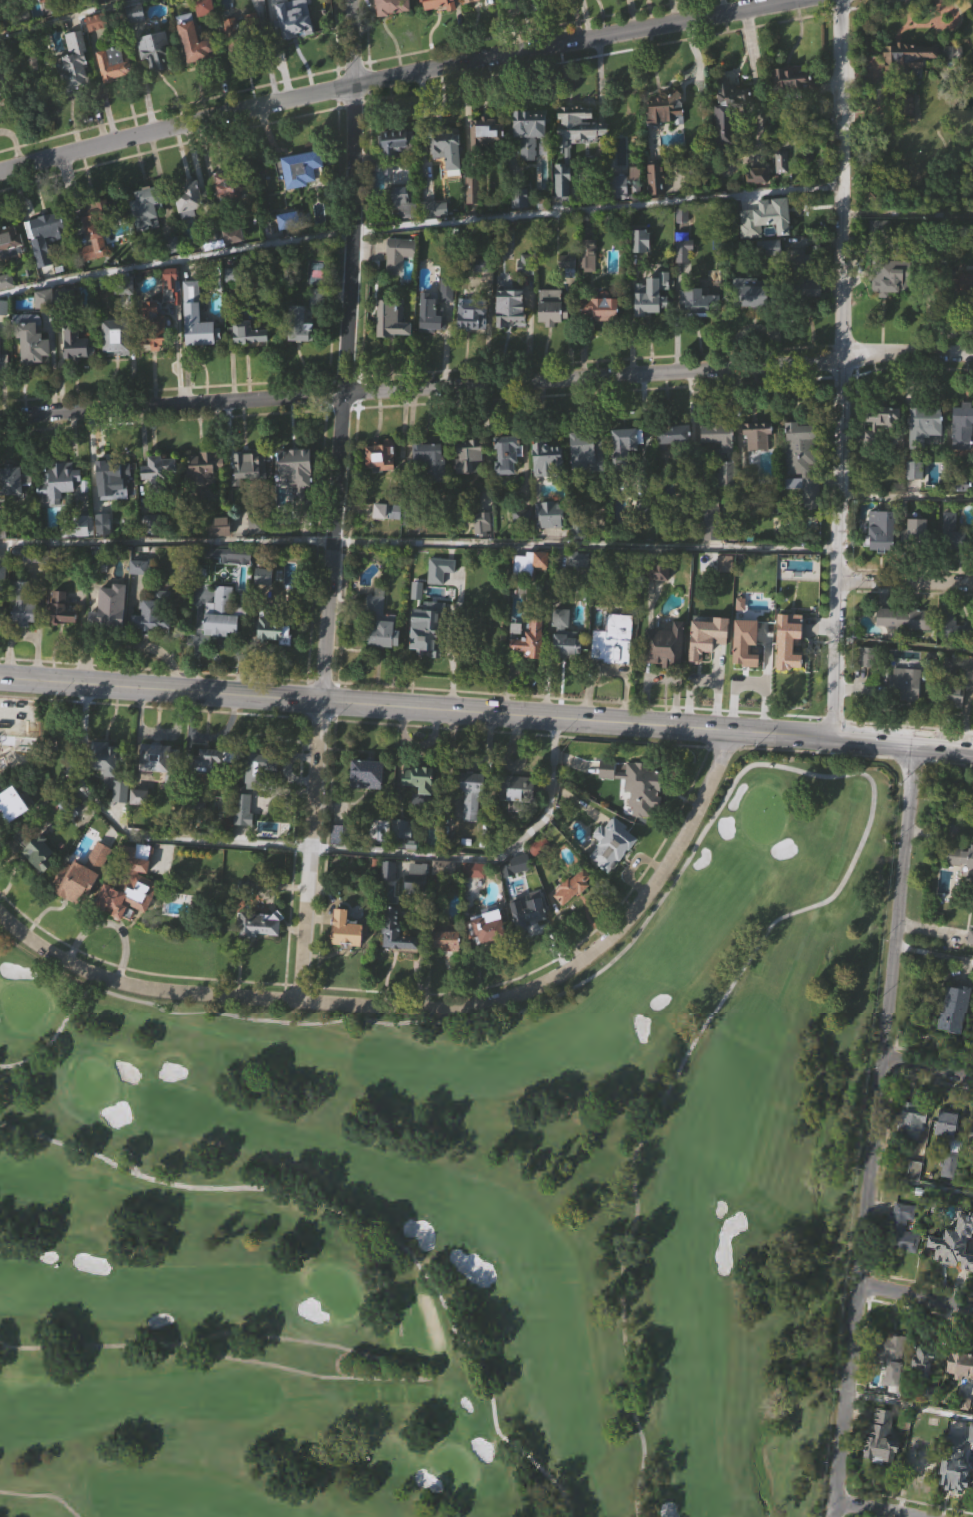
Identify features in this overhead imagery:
building: (74, 1)
building: (113, 1)
building: (468, 1)
building: (488, 1)
building: (594, 2)
building: (437, 4)
building: (34, 5)
building: (276, 6)
building: (389, 6)
building: (519, 6)
building: (8, 10)
building: (255, 11)
road: (75, 19)
building: (94, 24)
building: (393, 24)
building: (289, 25)
building: (206, 32)
building: (239, 32)
building: (138, 38)
building: (191, 40)
building: (294, 45)
building: (152, 47)
building: (98, 48)
building: (246, 49)
building: (907, 57)
building: (71, 63)
building: (112, 63)
building: (197, 70)
building: (157, 76)
road: (398, 76)
building: (789, 80)
building: (910, 82)
building: (77, 89)
building: (117, 90)
building: (0, 95)
building: (793, 103)
building: (663, 109)
building: (727, 114)
building: (1, 122)
building: (527, 130)
building: (483, 134)
building: (667, 135)
building: (572, 137)
building: (393, 141)
building: (444, 147)
building: (530, 157)
building: (487, 160)
building: (575, 165)
building: (397, 167)
building: (298, 169)
building: (655, 173)
building: (448, 175)
building: (611, 184)
building: (228, 186)
building: (783, 188)
building: (471, 190)
building: (304, 194)
building: (188, 196)
building: (518, 199)
building: (759, 201)
building: (402, 202)
building: (636, 204)
building: (657, 205)
building: (143, 206)
building: (231, 213)
road: (908, 213)
building: (474, 216)
building: (288, 220)
building: (191, 222)
building: (521, 224)
building: (403, 226)
road: (419, 226)
building: (91, 228)
building: (878, 228)
building: (148, 235)
building: (436, 235)
building: (220, 239)
building: (43, 240)
building: (9, 244)
building: (768, 248)
building: (881, 252)
building: (397, 253)
building: (587, 256)
building: (45, 263)
building: (95, 263)
building: (226, 264)
building: (567, 264)
building: (642, 267)
building: (11, 268)
building: (770, 273)
building: (801, 273)
building: (889, 275)
building: (685, 276)
building: (400, 280)
building: (951, 283)
building: (170, 284)
building: (568, 288)
building: (446, 290)
building: (485, 290)
building: (755, 294)
building: (63, 297)
building: (648, 300)
building: (232, 301)
building: (895, 303)
building: (693, 304)
building: (508, 307)
building: (550, 308)
building: (599, 310)
building: (173, 311)
building: (962, 312)
building: (471, 313)
building: (430, 315)
building: (810, 315)
building: (751, 316)
building: (195, 318)
building: (448, 318)
building: (389, 320)
building: (653, 321)
building: (46, 324)
building: (296, 325)
building: (697, 328)
building: (150, 332)
building: (4, 333)
building: (246, 333)
building: (553, 333)
building: (601, 333)
building: (512, 334)
building: (432, 341)
building: (473, 341)
building: (71, 342)
building: (113, 342)
building: (29, 345)
building: (199, 345)
building: (393, 345)
building: (301, 350)
building: (155, 352)
building: (250, 359)
building: (117, 362)
road: (841, 369)
building: (79, 370)
building: (1, 376)
road: (486, 384)
building: (884, 418)
building: (962, 429)
building: (672, 435)
building: (758, 436)
building: (716, 437)
building: (922, 437)
building: (884, 442)
building: (624, 446)
building: (963, 452)
building: (584, 453)
building: (505, 455)
building: (379, 456)
building: (467, 457)
building: (801, 459)
building: (429, 461)
building: (545, 461)
building: (674, 461)
building: (759, 461)
building: (628, 465)
building: (244, 469)
building: (108, 472)
building: (200, 472)
building: (157, 474)
building: (295, 475)
building: (723, 475)
building: (588, 477)
building: (507, 480)
building: (9, 482)
building: (55, 482)
building: (383, 482)
building: (471, 482)
building: (547, 484)
building: (433, 485)
building: (252, 491)
building: (297, 493)
building: (161, 495)
building: (205, 496)
building: (915, 496)
road: (906, 497)
road: (336, 499)
building: (934, 500)
building: (13, 506)
building: (116, 506)
building: (60, 508)
building: (385, 512)
building: (549, 514)
building: (413, 515)
building: (152, 521)
building: (304, 521)
building: (709, 521)
building: (812, 521)
building: (255, 522)
building: (481, 523)
building: (76, 526)
building: (219, 526)
building: (577, 527)
building: (880, 530)
building: (954, 530)
building: (915, 532)
building: (389, 537)
building: (551, 539)
building: (523, 540)
road: (418, 542)
building: (712, 544)
building: (105, 550)
building: (154, 550)
building: (483, 550)
building: (258, 551)
building: (221, 552)
building: (31, 553)
building: (82, 554)
building: (918, 556)
building: (882, 557)
building: (578, 558)
building: (957, 559)
building: (528, 563)
building: (232, 581)
road: (905, 581)
building: (580, 585)
building: (531, 589)
building: (726, 589)
building: (140, 593)
building: (441, 595)
building: (660, 598)
building: (291, 600)
building: (20, 601)
building: (265, 602)
building: (107, 605)
building: (59, 607)
building: (151, 611)
building: (3, 613)
building: (219, 614)
building: (418, 616)
building: (906, 617)
building: (379, 620)
building: (954, 624)
building: (269, 627)
building: (25, 630)
building: (112, 633)
building: (63, 635)
building: (563, 635)
building: (425, 638)
building: (529, 638)
building: (155, 639)
building: (223, 639)
building: (613, 640)
building: (664, 643)
building: (904, 644)
road: (903, 647)
building: (383, 651)
building: (956, 653)
building: (867, 655)
building: (277, 657)
building: (567, 662)
building: (708, 663)
building: (614, 666)
building: (532, 667)
building: (790, 667)
building: (746, 668)
building: (666, 671)
building: (865, 683)
building: (904, 683)
building: (953, 691)
building: (907, 710)
road: (486, 713)
building: (955, 723)
building: (101, 756)
building: (155, 756)
building: (208, 759)
road: (773, 762)
building: (257, 767)
building: (365, 772)
building: (418, 777)
building: (158, 783)
building: (636, 784)
building: (214, 785)
building: (118, 790)
building: (515, 790)
building: (469, 791)
building: (258, 794)
building: (368, 799)
building: (9, 803)
building: (421, 804)
building: (190, 806)
building: (241, 809)
building: (638, 812)
building: (519, 814)
building: (122, 817)
building: (472, 820)
building: (141, 822)
building: (14, 830)
building: (197, 830)
building: (342, 834)
building: (245, 835)
road: (200, 839)
building: (400, 839)
building: (610, 842)
building: (100, 846)
building: (33, 849)
building: (135, 852)
building: (960, 855)
road: (481, 857)
building: (381, 858)
building: (405, 860)
building: (473, 869)
building: (613, 870)
building: (41, 879)
building: (71, 879)
building: (414, 883)
building: (967, 883)
building: (571, 886)
building: (243, 889)
building: (389, 896)
building: (478, 896)
building: (85, 900)
building: (111, 901)
building: (419, 902)
building: (573, 913)
building: (131, 916)
building: (527, 916)
building: (256, 922)
building: (487, 926)
building: (345, 929)
building: (395, 929)
building: (444, 936)
building: (532, 941)
building: (261, 951)
building: (488, 952)
road: (933, 954)
building: (348, 955)
building: (397, 958)
building: (447, 962)
building: (971, 964)
road: (426, 1007)
building: (955, 1009)
building: (528, 1018)
building: (956, 1036)
road: (927, 1069)
building: (912, 1121)
building: (947, 1127)
road: (875, 1130)
building: (971, 1142)
building: (914, 1149)
building: (952, 1161)
road: (133, 1165)
road: (922, 1187)
building: (951, 1191)
building: (917, 1198)
park: (457, 1213)
road: (361, 1223)
building: (901, 1230)
building: (951, 1251)
building: (905, 1257)
building: (956, 1272)
road: (916, 1298)
road: (1, 1346)
road: (95, 1347)
building: (888, 1351)
building: (924, 1362)
building: (961, 1366)
road: (433, 1372)
building: (894, 1386)
building: (925, 1389)
building: (961, 1392)
road: (910, 1409)
building: (882, 1440)
building: (923, 1458)
building: (884, 1464)
building: (960, 1470)
building: (923, 1481)
road: (40, 1499)
road: (868, 1510)

